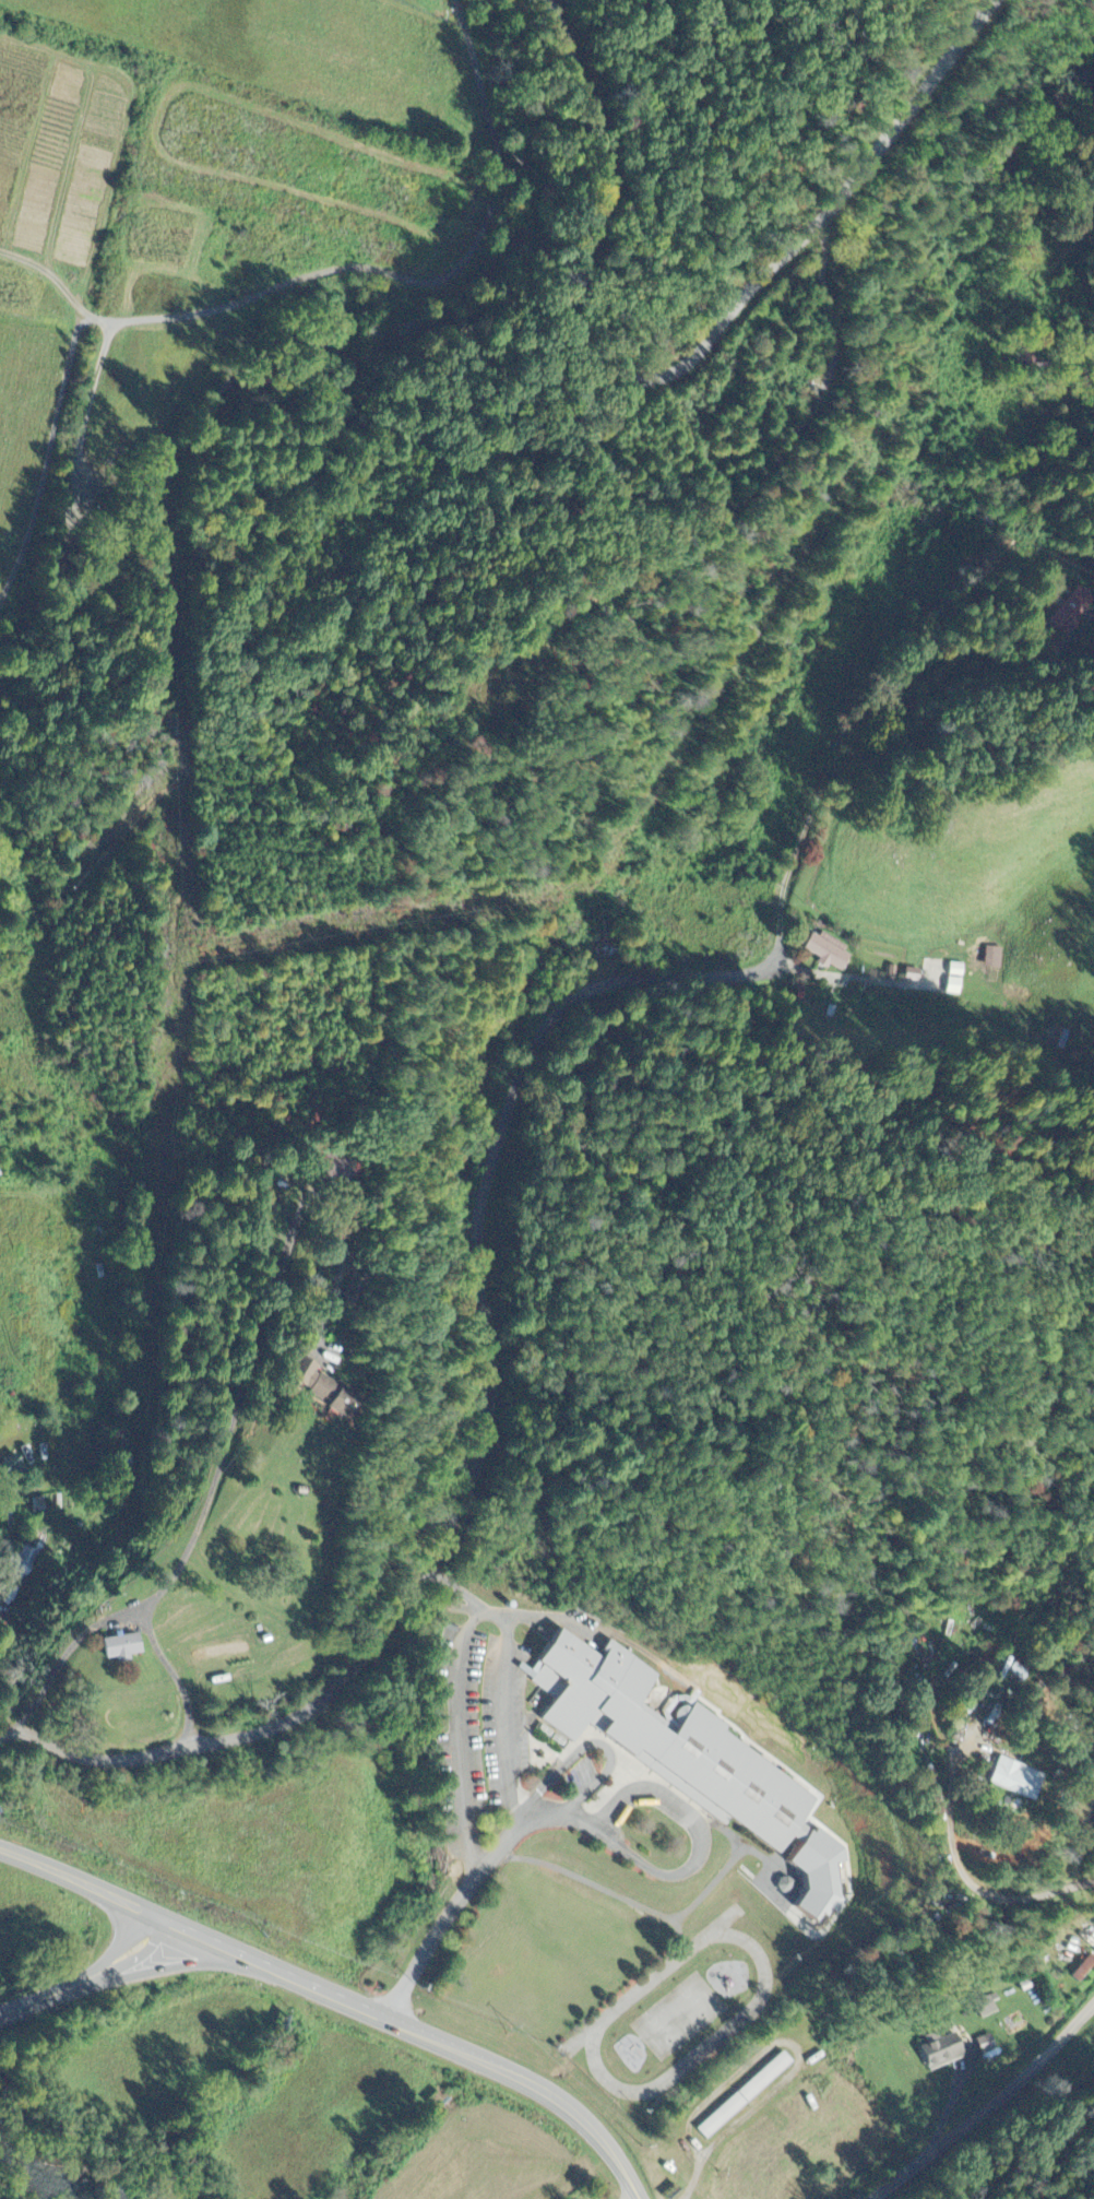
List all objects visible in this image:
road: (681, 367)
building: (1070, 611)
park: (483, 704)
building: (825, 953)
building: (996, 959)
building: (954, 980)
building: (334, 1170)
road: (486, 1208)
building: (308, 1385)
building: (8, 1467)
building: (36, 1505)
building: (20, 1560)
building: (117, 1648)
building: (749, 1709)
building: (685, 1759)
building: (1015, 1780)
road: (91, 1976)
road: (340, 1999)
building: (986, 2008)
building: (985, 2045)
building: (938, 2052)
building: (742, 2096)
road: (991, 2111)

